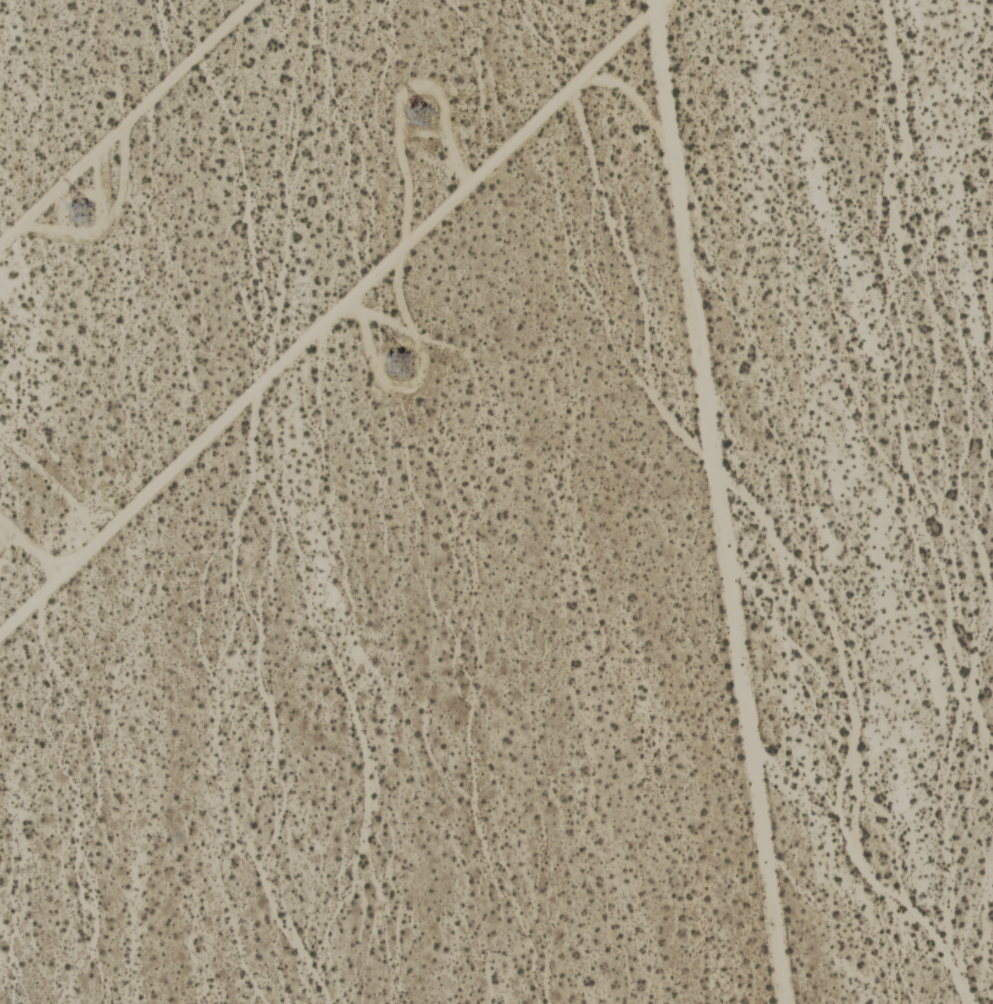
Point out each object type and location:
power tower: (426, 110)
power tower: (91, 212)
road: (330, 316)
power tower: (404, 366)

